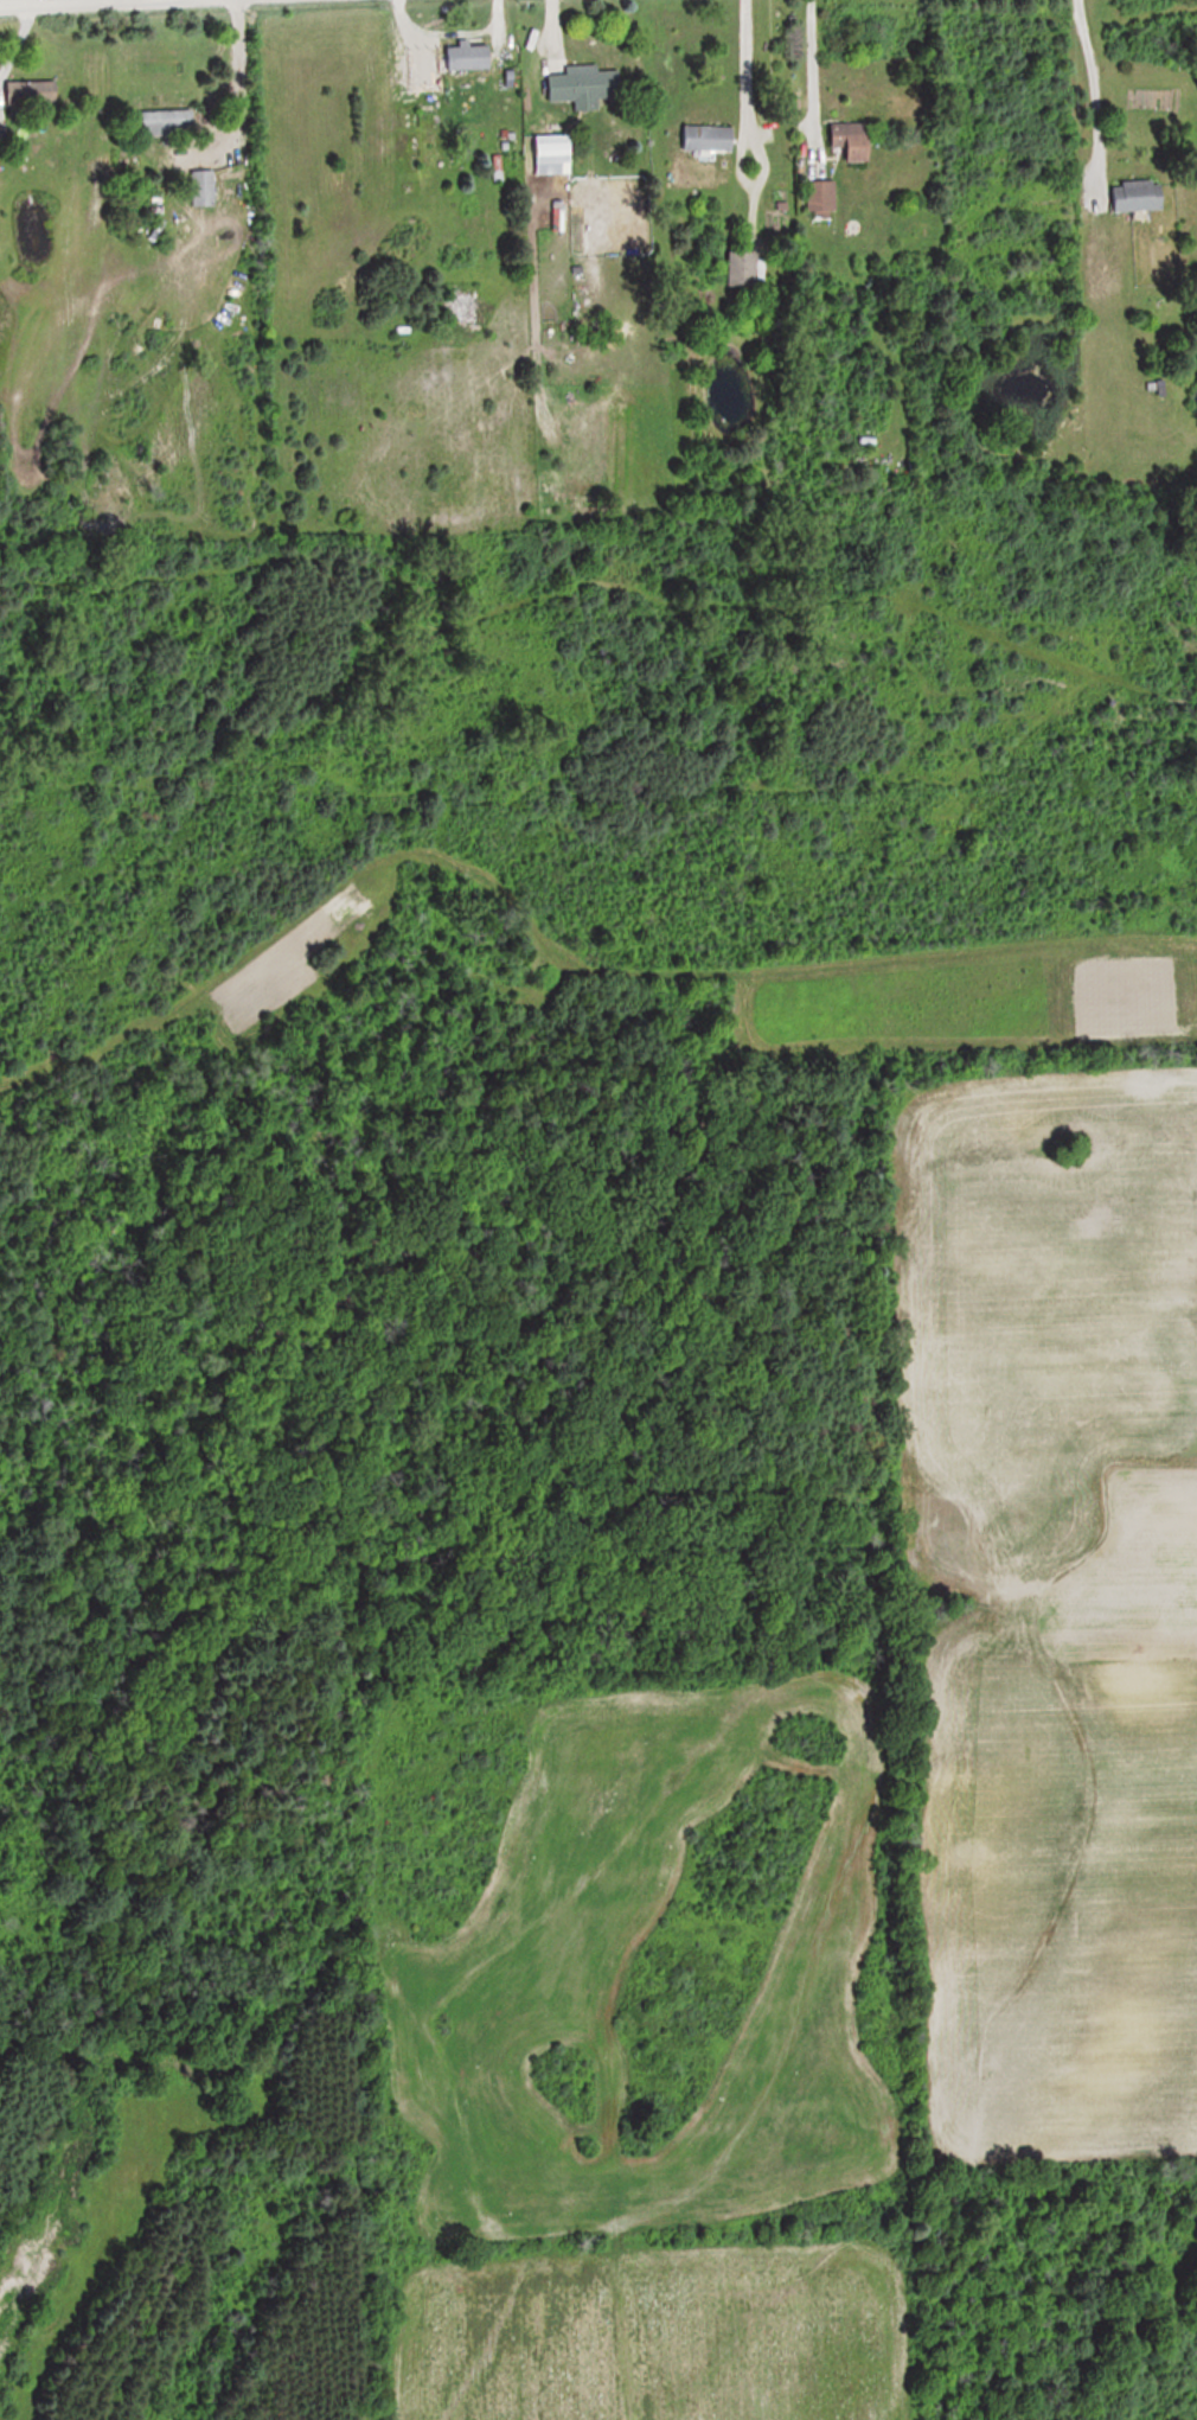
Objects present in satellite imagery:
road: (156, 0)
road: (9, 4)
road: (91, 4)
building: (469, 56)
road: (747, 65)
road: (806, 69)
road: (239, 87)
building: (581, 87)
road: (1089, 90)
building: (32, 94)
building: (169, 124)
building: (709, 138)
building: (856, 139)
building: (556, 148)
road: (751, 180)
building: (204, 189)
building: (1140, 194)
building: (822, 198)

